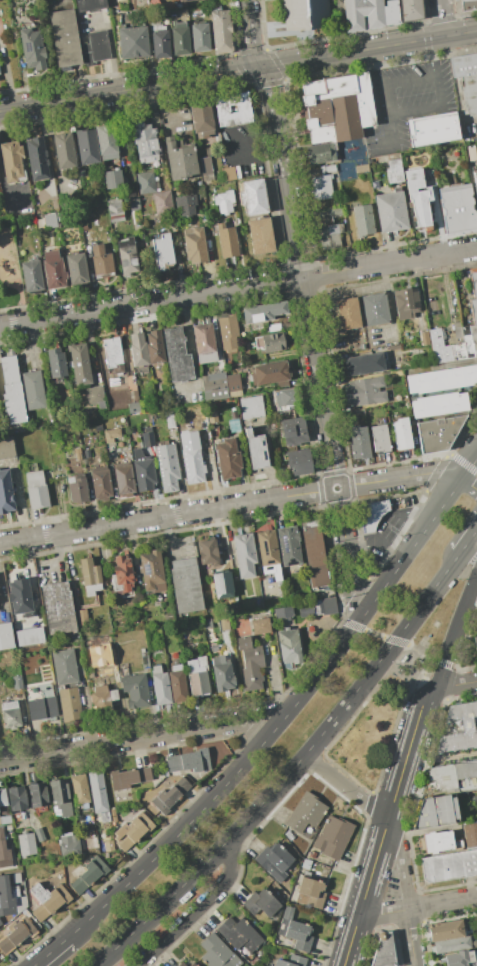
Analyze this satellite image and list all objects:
building: (183, 0)
building: (92, 4)
building: (468, 5)
building: (410, 10)
building: (391, 13)
building: (305, 14)
building: (363, 14)
road: (441, 18)
building: (221, 31)
road: (248, 35)
building: (200, 37)
building: (65, 38)
building: (180, 38)
building: (133, 42)
building: (159, 44)
building: (95, 47)
building: (32, 49)
road: (112, 52)
road: (238, 71)
road: (411, 80)
building: (467, 80)
road: (439, 97)
road: (387, 99)
parking lot: (407, 102)
road: (168, 107)
building: (338, 107)
building: (233, 112)
building: (202, 120)
building: (433, 131)
road: (253, 139)
building: (106, 143)
building: (146, 144)
building: (87, 146)
building: (63, 150)
building: (320, 153)
building: (36, 158)
building: (12, 161)
building: (182, 161)
building: (207, 168)
building: (227, 169)
building: (349, 170)
building: (81, 172)
building: (394, 172)
building: (475, 177)
building: (113, 179)
building: (413, 179)
building: (145, 183)
building: (321, 187)
road: (3, 191)
building: (253, 196)
building: (133, 201)
building: (224, 202)
building: (163, 203)
building: (186, 204)
building: (457, 207)
building: (420, 209)
building: (391, 210)
building: (115, 211)
building: (334, 211)
building: (362, 219)
building: (49, 220)
building: (186, 231)
building: (329, 235)
building: (260, 236)
building: (228, 243)
building: (195, 245)
building: (162, 251)
building: (127, 255)
building: (101, 263)
park: (9, 267)
building: (76, 268)
building: (53, 270)
building: (32, 276)
building: (427, 283)
road: (238, 287)
building: (473, 294)
building: (405, 303)
building: (374, 309)
building: (263, 312)
building: (346, 313)
road: (310, 330)
building: (228, 334)
building: (424, 338)
building: (271, 341)
road: (30, 342)
building: (204, 343)
building: (453, 345)
building: (155, 347)
building: (138, 349)
building: (111, 352)
building: (177, 354)
building: (56, 363)
building: (79, 364)
building: (361, 364)
building: (8, 369)
building: (271, 373)
building: (397, 373)
building: (441, 379)
building: (233, 385)
building: (215, 387)
building: (33, 390)
building: (365, 392)
building: (96, 397)
building: (285, 398)
building: (401, 399)
building: (13, 403)
building: (439, 404)
building: (133, 408)
building: (250, 408)
building: (360, 413)
building: (212, 417)
building: (170, 419)
building: (233, 426)
road: (462, 428)
building: (293, 431)
building: (438, 433)
building: (111, 434)
building: (401, 434)
building: (380, 438)
building: (148, 439)
building: (359, 443)
building: (6, 447)
building: (256, 449)
building: (76, 453)
building: (137, 453)
building: (191, 457)
building: (227, 459)
building: (298, 460)
road: (462, 462)
road: (468, 466)
building: (167, 467)
road: (435, 471)
building: (144, 475)
building: (124, 481)
building: (101, 484)
road: (468, 485)
building: (35, 487)
building: (77, 488)
building: (5, 492)
road: (230, 506)
building: (370, 515)
road: (396, 535)
road: (168, 536)
road: (377, 538)
road: (467, 539)
building: (288, 545)
building: (207, 552)
road: (407, 552)
building: (269, 554)
building: (316, 555)
building: (245, 556)
building: (151, 570)
building: (90, 576)
building: (121, 578)
building: (185, 585)
building: (223, 586)
road: (355, 595)
road: (426, 597)
building: (20, 598)
building: (319, 607)
building: (59, 609)
road: (356, 609)
building: (283, 613)
building: (82, 616)
road: (342, 616)
building: (207, 623)
building: (223, 624)
road: (352, 625)
road: (361, 625)
building: (260, 626)
road: (456, 629)
road: (373, 633)
building: (6, 636)
building: (29, 637)
road: (394, 640)
road: (465, 642)
building: (475, 643)
building: (288, 646)
road: (429, 656)
building: (145, 660)
road: (442, 662)
building: (250, 663)
road: (454, 666)
building: (64, 667)
building: (176, 667)
road: (425, 668)
building: (156, 669)
building: (222, 673)
building: (197, 676)
road: (452, 677)
building: (17, 682)
road: (456, 683)
building: (177, 686)
building: (161, 689)
building: (134, 691)
road: (427, 694)
building: (102, 697)
park: (394, 697)
building: (69, 704)
building: (41, 708)
building: (10, 715)
building: (458, 727)
road: (139, 738)
building: (190, 762)
road: (403, 762)
building: (129, 777)
building: (451, 778)
road: (345, 786)
building: (79, 790)
road: (221, 792)
building: (98, 795)
building: (37, 796)
building: (170, 796)
building: (60, 797)
building: (3, 798)
building: (17, 801)
road: (253, 811)
building: (435, 811)
building: (306, 814)
building: (5, 819)
building: (8, 827)
building: (135, 830)
building: (39, 834)
building: (91, 834)
building: (470, 835)
building: (332, 837)
building: (440, 842)
building: (26, 844)
building: (69, 846)
building: (108, 846)
building: (4, 852)
building: (270, 857)
road: (401, 863)
building: (449, 866)
road: (372, 868)
building: (88, 874)
building: (15, 878)
building: (309, 893)
building: (6, 898)
building: (48, 900)
building: (260, 902)
road: (441, 903)
building: (20, 904)
road: (199, 909)
road: (381, 913)
building: (0, 923)
building: (445, 929)
building: (295, 931)
building: (17, 934)
building: (238, 934)
road: (409, 938)
road: (350, 941)
building: (453, 944)
road: (49, 951)
building: (383, 951)
building: (217, 952)
building: (475, 957)
building: (460, 959)
building: (291, 961)
building: (182, 964)
building: (191, 964)
building: (194, 964)

